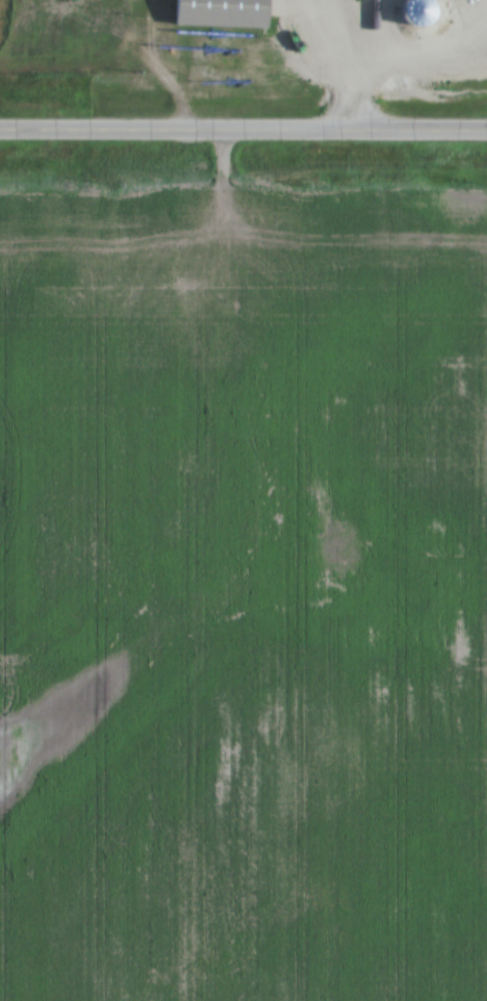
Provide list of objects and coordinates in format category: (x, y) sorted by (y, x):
building: (422, 12)
building: (224, 13)
road: (340, 44)
road: (385, 49)
road: (361, 110)
road: (243, 128)

